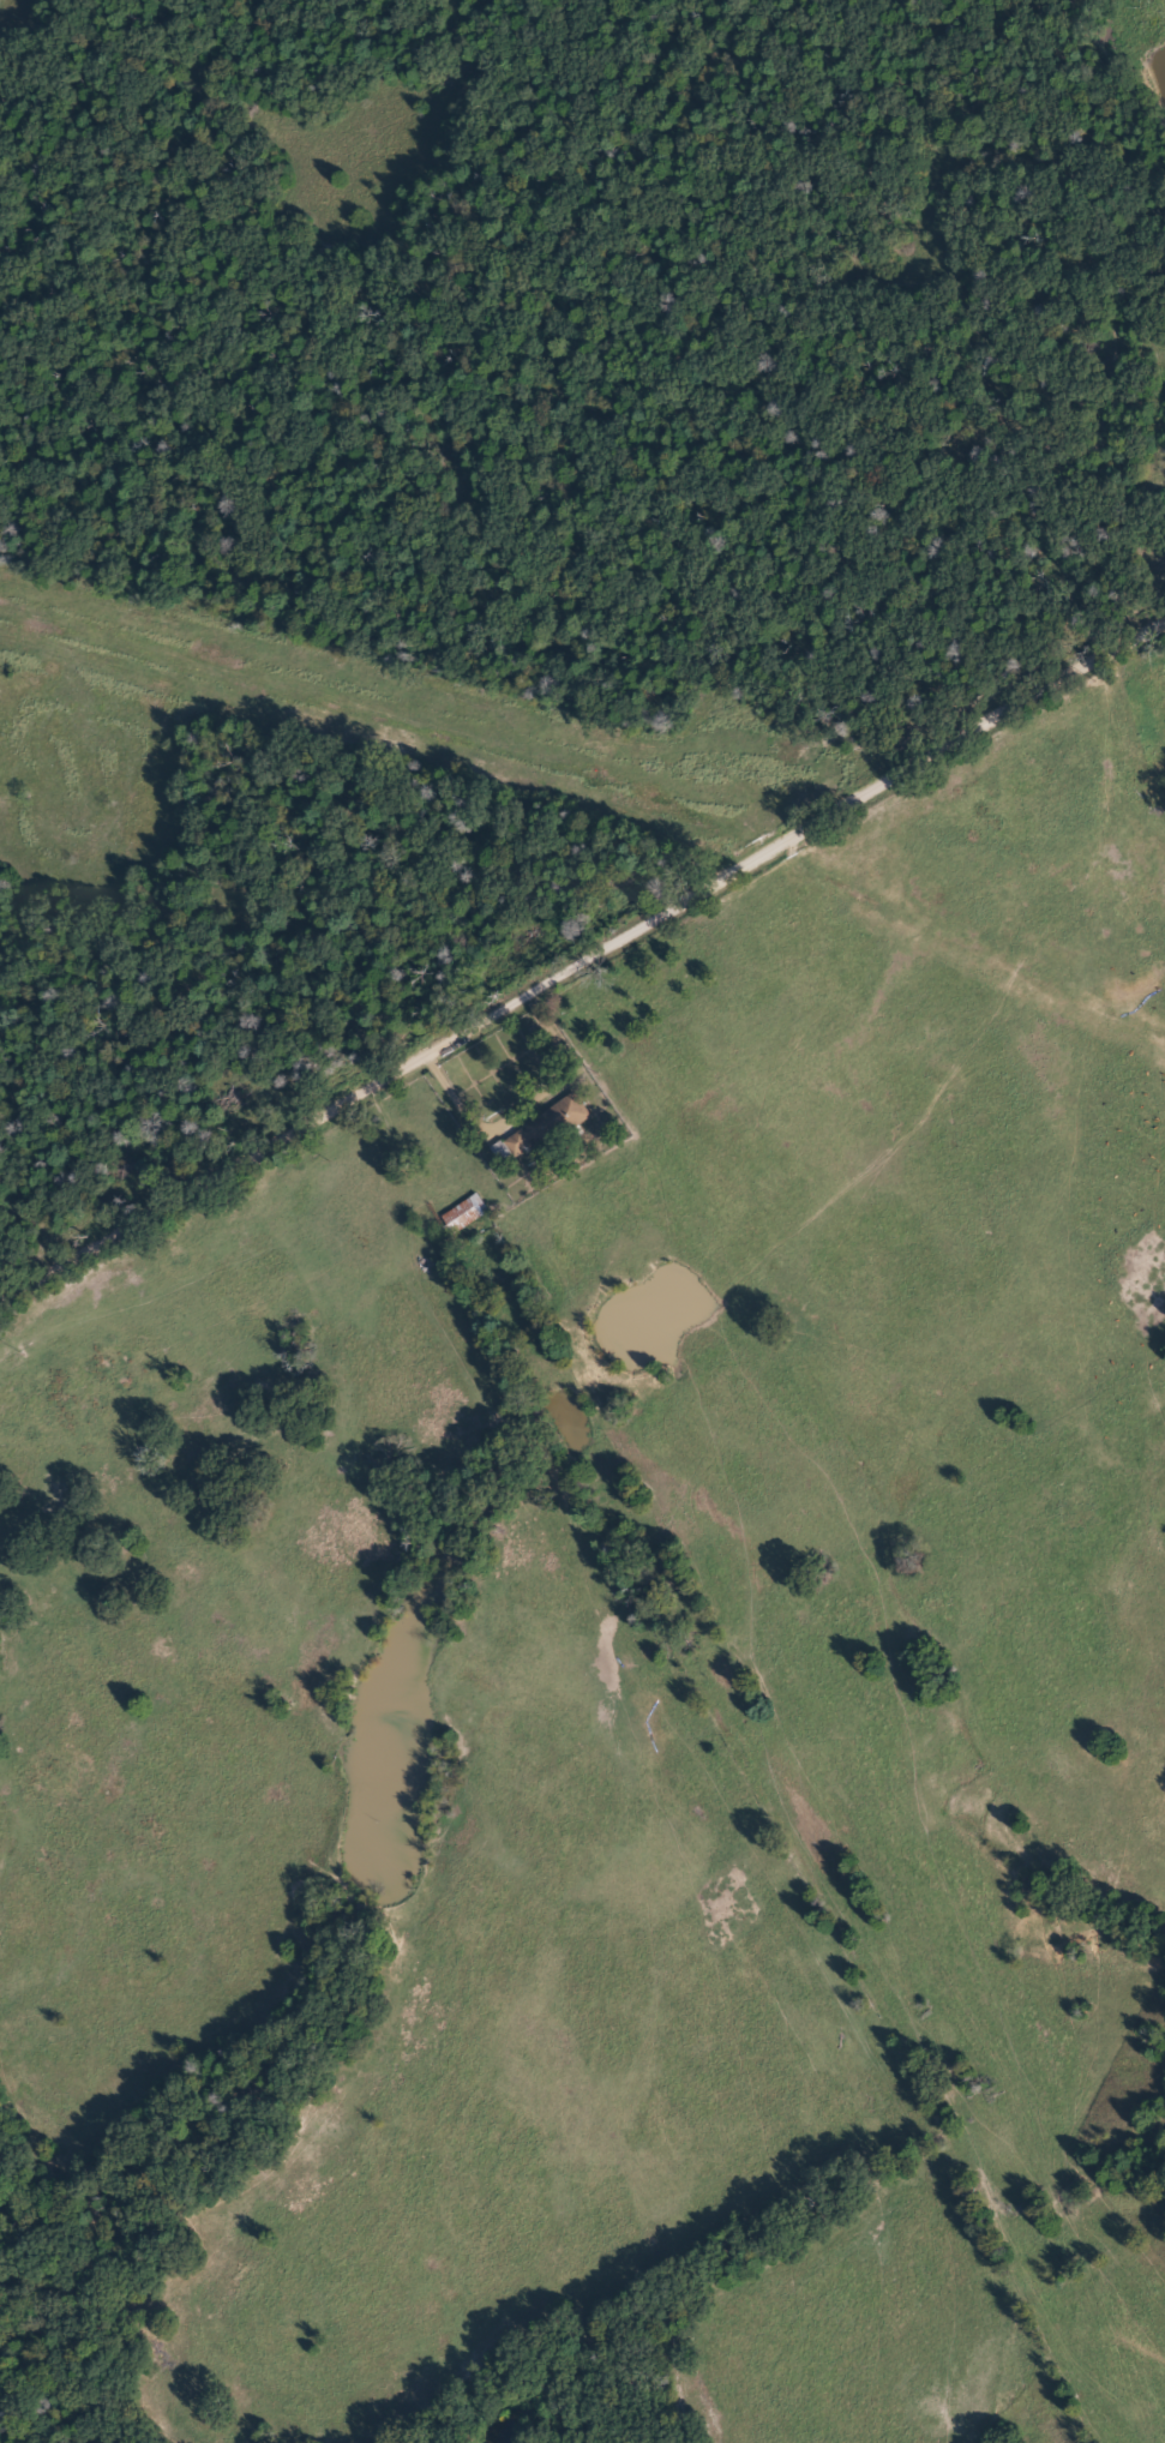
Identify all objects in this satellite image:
road: (581, 950)
road: (521, 1098)
building: (547, 1126)
building: (464, 1214)

